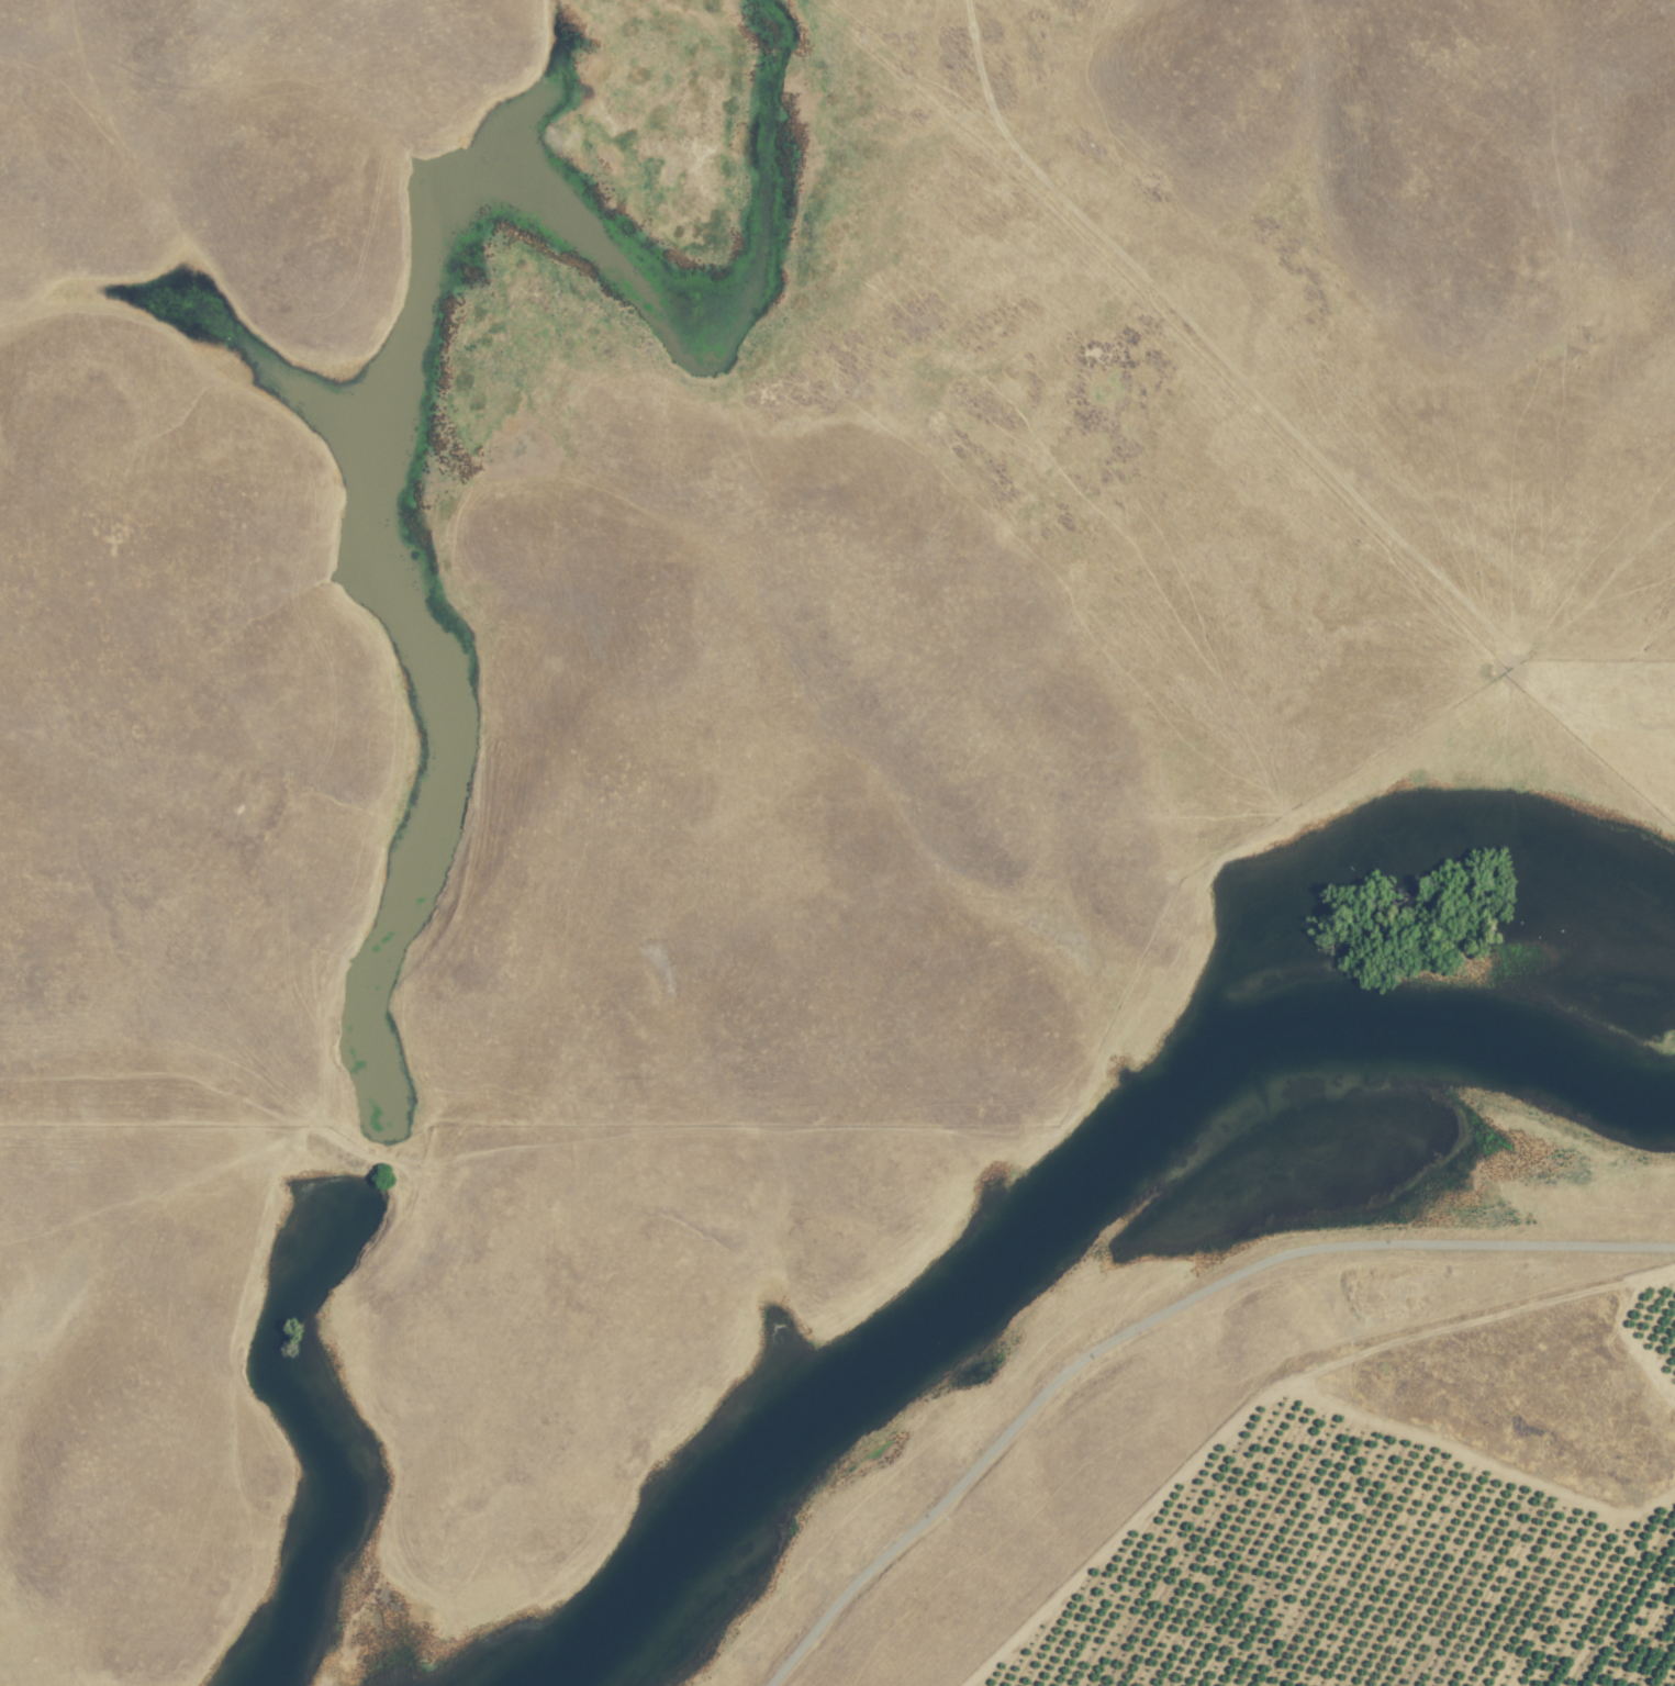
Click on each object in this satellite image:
road: (1268, 368)
road: (1135, 1308)

